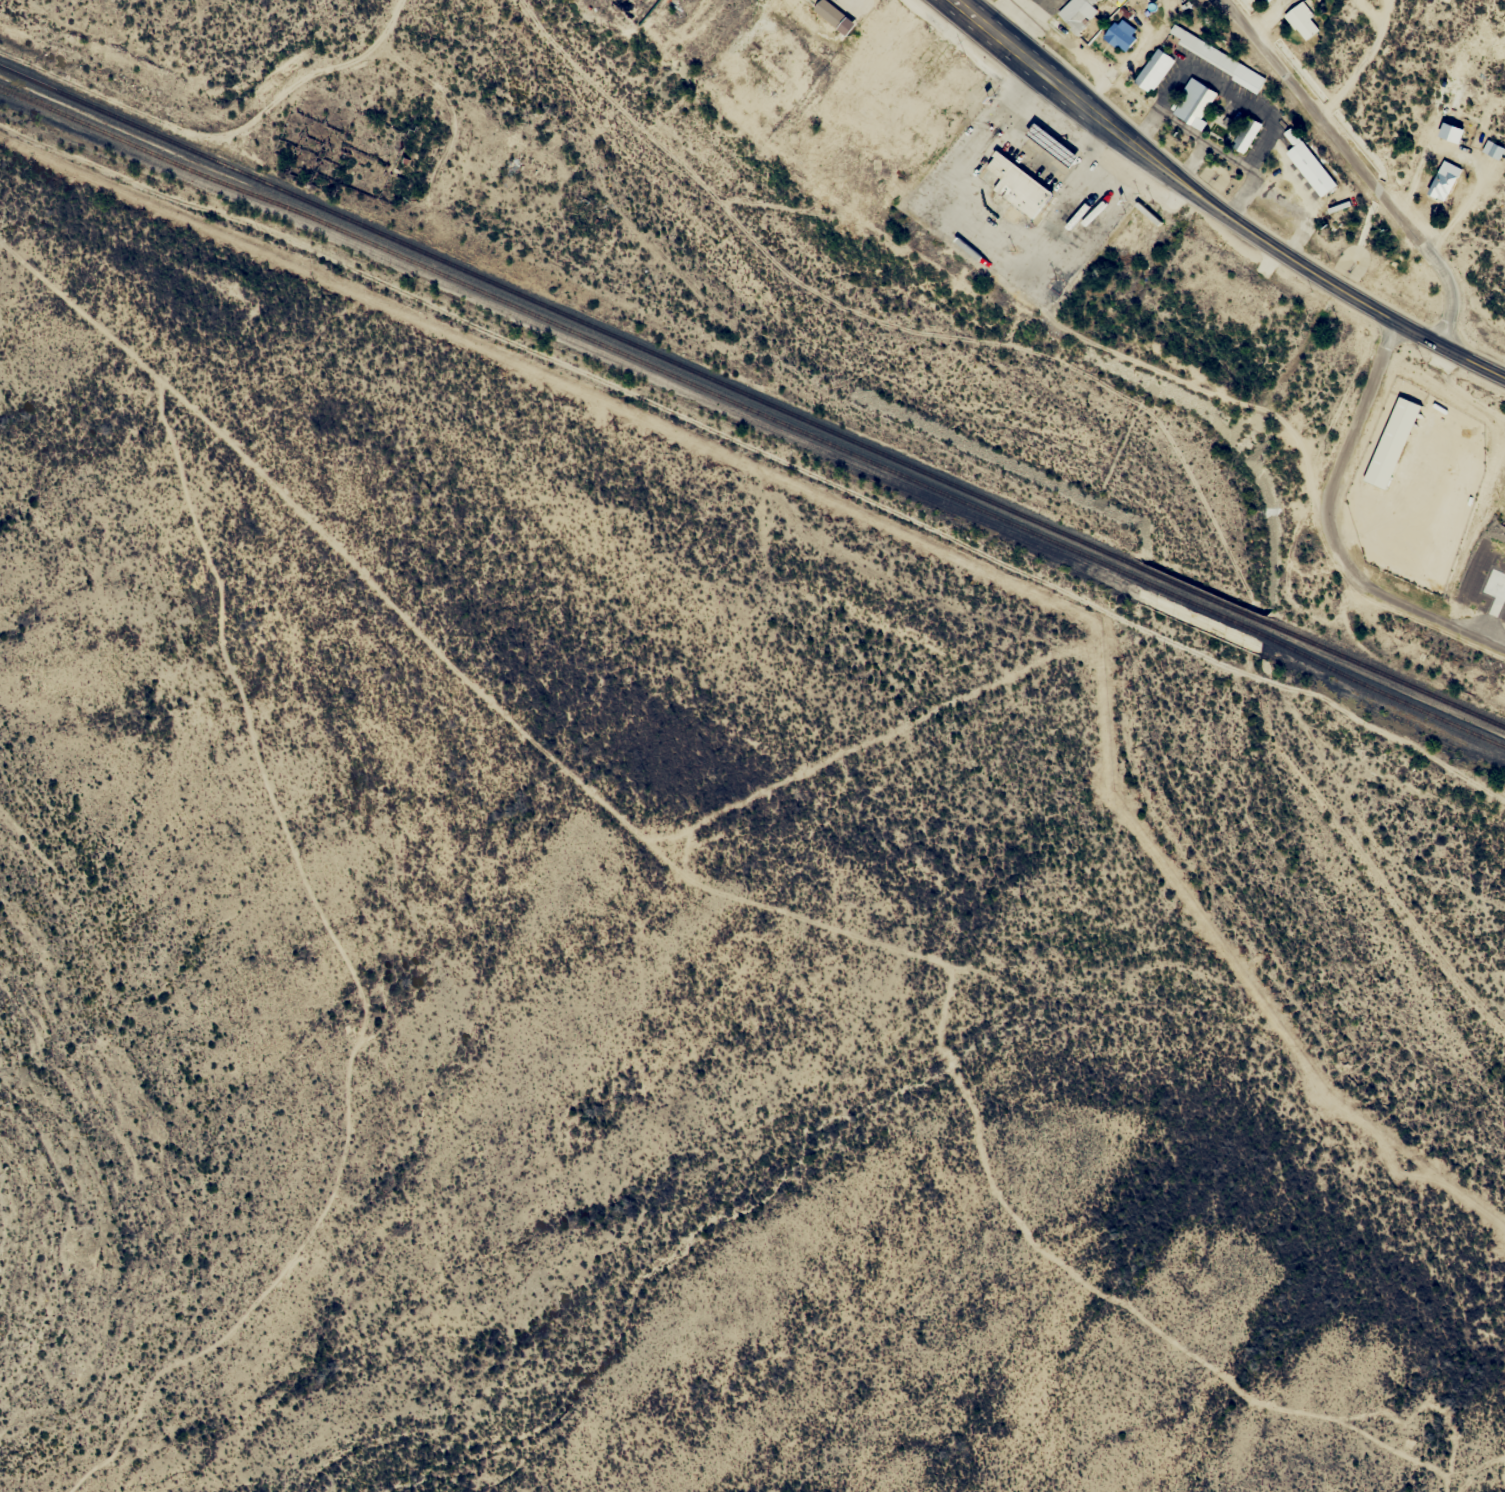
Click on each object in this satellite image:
building: (1074, 14)
building: (830, 15)
building: (1303, 21)
building: (1120, 33)
building: (1204, 84)
building: (1451, 132)
building: (1047, 145)
building: (1493, 149)
road: (1359, 166)
building: (1313, 171)
building: (1444, 180)
building: (1010, 189)
road: (1215, 209)
railway: (569, 314)
railway: (572, 330)
road: (1351, 440)
building: (1393, 444)
railway: (1202, 595)
railway: (1204, 609)
road: (1419, 612)
railway: (1386, 675)
railway: (1385, 690)

